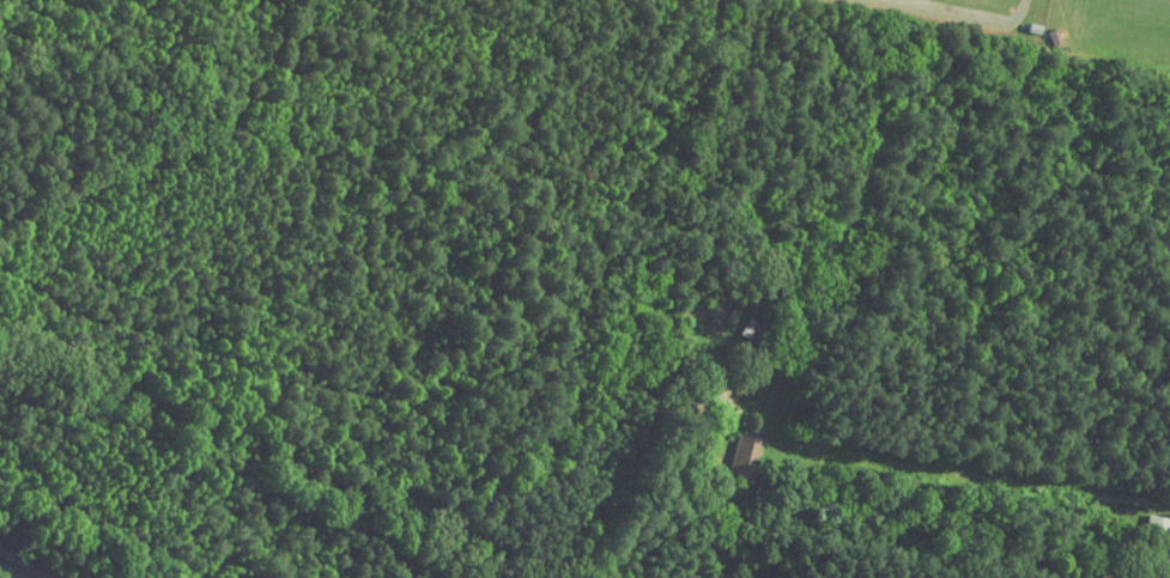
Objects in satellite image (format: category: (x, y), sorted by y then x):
building: (748, 457)
road: (989, 480)
building: (1159, 528)
railway: (17, 567)

